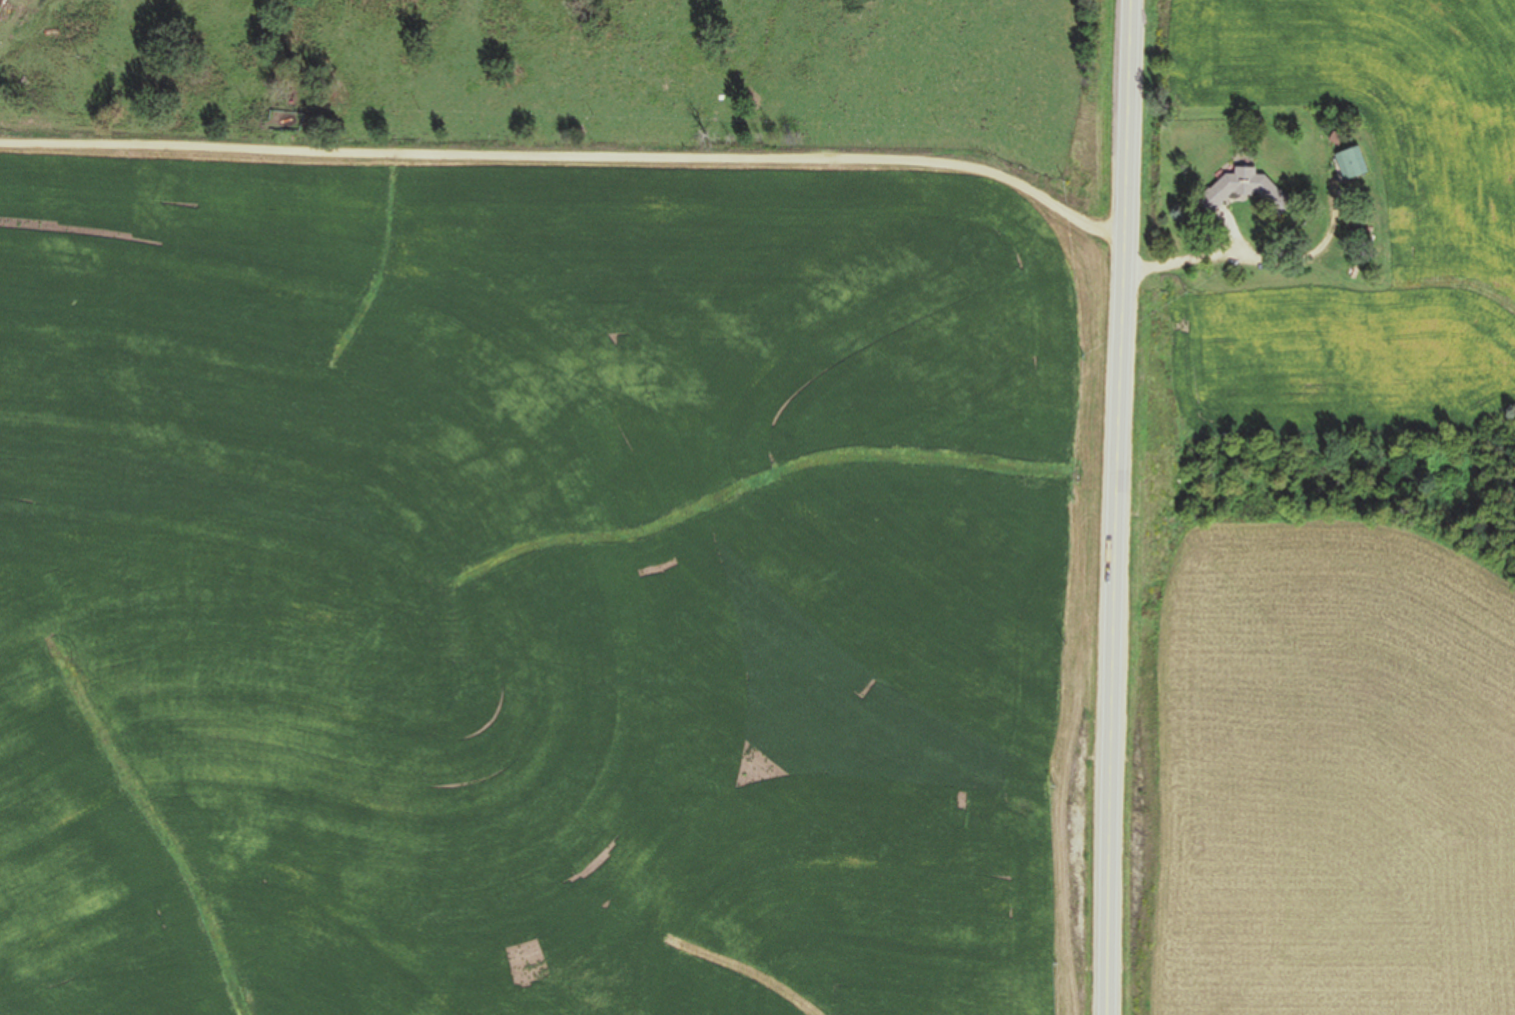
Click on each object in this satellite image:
road: (610, 147)
building: (1351, 162)
building: (1243, 189)
road: (1115, 507)

